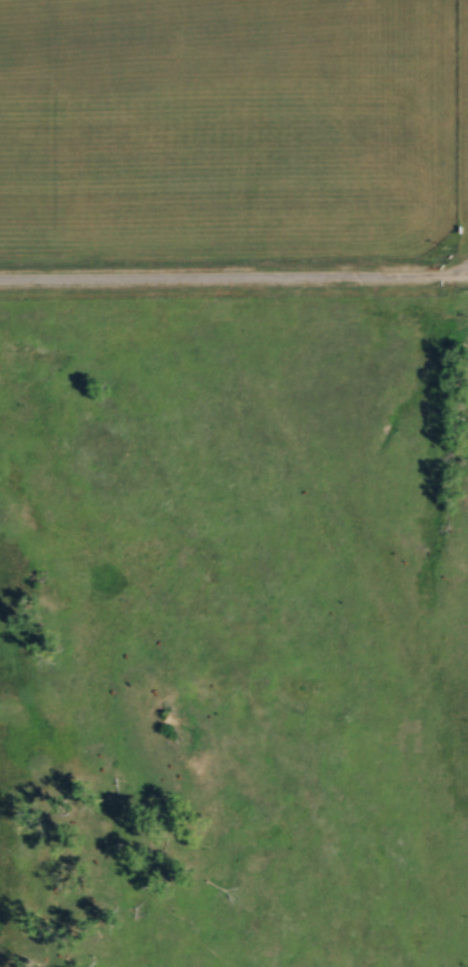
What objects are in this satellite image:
airport: (233, 152)
road: (234, 276)

